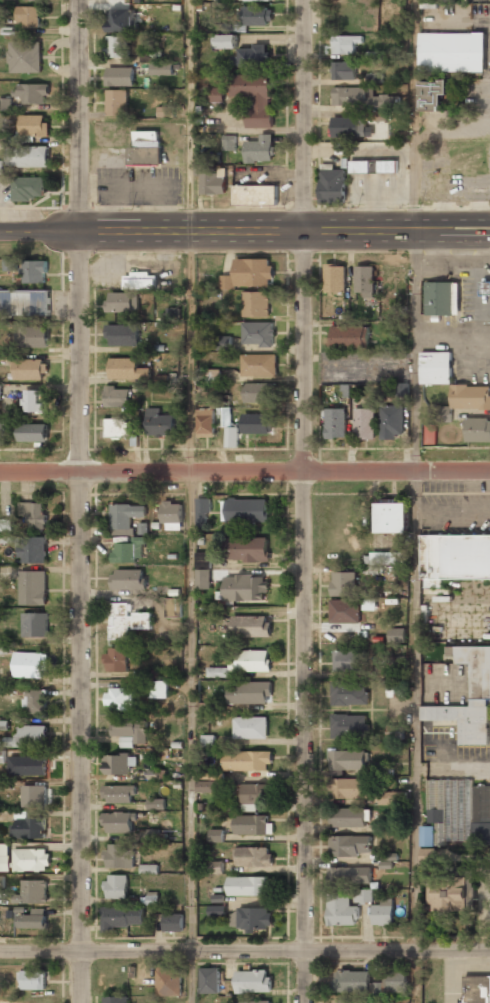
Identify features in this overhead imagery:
building: (257, 0)
building: (27, 17)
building: (254, 17)
building: (121, 20)
building: (0, 28)
building: (227, 42)
building: (345, 44)
building: (117, 47)
building: (451, 52)
building: (149, 55)
building: (251, 56)
building: (25, 57)
building: (161, 69)
building: (343, 71)
building: (120, 76)
building: (375, 78)
building: (216, 94)
building: (31, 95)
building: (431, 96)
building: (354, 97)
building: (255, 98)
building: (116, 103)
building: (5, 104)
building: (163, 112)
road: (412, 115)
road: (190, 116)
building: (376, 116)
building: (33, 126)
building: (352, 128)
building: (230, 142)
building: (260, 150)
building: (145, 151)
building: (28, 157)
building: (387, 166)
building: (2, 167)
building: (360, 167)
building: (212, 181)
building: (332, 186)
building: (28, 189)
building: (255, 195)
road: (245, 232)
building: (11, 265)
building: (34, 271)
building: (249, 273)
building: (334, 279)
building: (138, 281)
building: (365, 282)
building: (486, 287)
building: (441, 299)
building: (122, 302)
building: (24, 303)
building: (255, 304)
building: (257, 334)
building: (123, 336)
building: (31, 337)
building: (350, 337)
building: (221, 342)
road: (413, 351)
road: (191, 352)
building: (258, 365)
building: (436, 368)
building: (127, 369)
building: (30, 370)
building: (214, 376)
building: (0, 392)
building: (258, 393)
building: (118, 398)
building: (471, 398)
building: (34, 401)
building: (442, 413)
building: (392, 422)
building: (205, 423)
building: (160, 424)
building: (257, 424)
building: (336, 424)
building: (364, 424)
building: (116, 429)
building: (478, 430)
building: (3, 431)
building: (33, 433)
building: (430, 434)
building: (231, 438)
road: (244, 472)
road: (80, 501)
road: (303, 501)
building: (201, 511)
building: (245, 511)
building: (171, 513)
building: (34, 515)
building: (124, 517)
building: (392, 518)
building: (5, 525)
building: (32, 549)
building: (245, 550)
building: (126, 553)
building: (202, 559)
building: (384, 559)
building: (452, 560)
building: (128, 580)
building: (202, 581)
building: (344, 584)
building: (33, 587)
building: (244, 589)
building: (172, 608)
building: (344, 612)
building: (127, 622)
building: (35, 625)
building: (250, 627)
building: (397, 635)
building: (116, 660)
building: (348, 660)
building: (250, 661)
building: (28, 665)
building: (218, 672)
building: (480, 681)
building: (395, 690)
building: (158, 691)
building: (249, 694)
building: (349, 694)
building: (119, 698)
building: (34, 702)
building: (349, 726)
building: (249, 728)
building: (130, 730)
building: (393, 732)
building: (28, 736)
road: (192, 737)
road: (416, 737)
building: (208, 741)
building: (2, 757)
building: (247, 761)
building: (347, 761)
building: (116, 765)
building: (27, 766)
building: (208, 787)
building: (350, 789)
building: (118, 794)
building: (34, 796)
building: (252, 796)
building: (392, 798)
building: (156, 804)
building: (451, 810)
building: (348, 818)
building: (119, 822)
building: (251, 826)
building: (28, 827)
building: (153, 835)
building: (216, 835)
building: (349, 846)
building: (119, 856)
building: (5, 857)
building: (253, 857)
building: (387, 860)
building: (30, 861)
building: (217, 867)
building: (149, 869)
building: (349, 876)
building: (1, 881)
building: (248, 886)
building: (117, 887)
building: (31, 893)
building: (450, 895)
building: (364, 896)
building: (153, 899)
building: (217, 911)
building: (341, 911)
building: (382, 915)
building: (120, 917)
building: (254, 919)
building: (31, 921)
building: (173, 923)
road: (244, 952)
building: (33, 980)
building: (210, 980)
building: (253, 981)
building: (169, 983)
building: (370, 984)
building: (476, 989)
building: (116, 1000)
building: (254, 1002)
building: (358, 1002)

